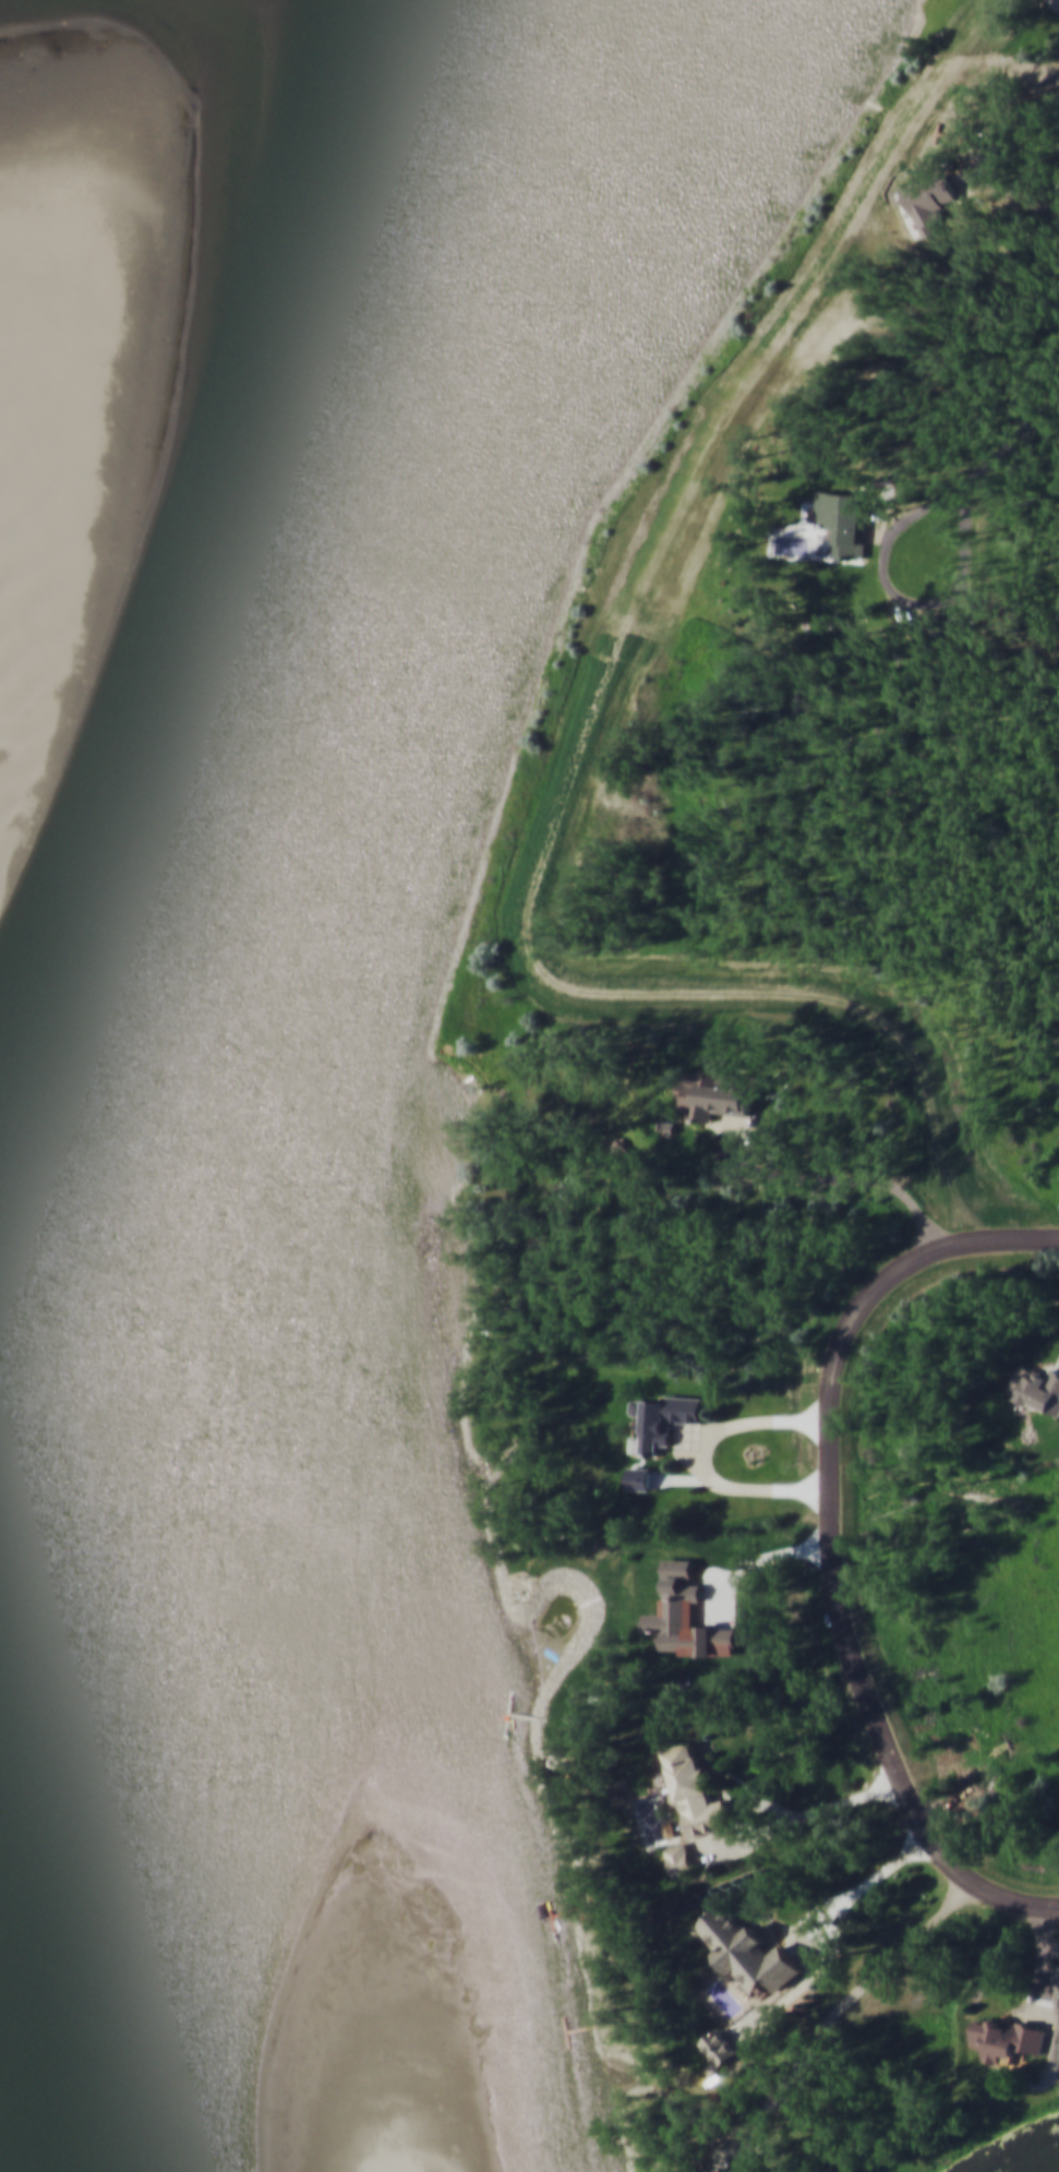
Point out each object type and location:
building: (1057, 1)
road: (1006, 192)
building: (925, 200)
road: (1002, 428)
building: (846, 519)
road: (882, 521)
road: (961, 599)
road: (910, 603)
building: (985, 612)
river: (240, 795)
building: (713, 1092)
building: (625, 1154)
road: (828, 1179)
building: (1037, 1388)
building: (665, 1418)
road: (689, 1436)
road: (697, 1459)
road: (831, 1550)
building: (693, 1789)
road: (757, 1805)
road: (795, 1819)
road: (703, 1853)
building: (681, 1859)
road: (821, 1937)
road: (805, 1939)
building: (749, 1954)
road: (1043, 1969)
road: (832, 2019)
building: (1010, 2040)
building: (720, 2048)
building: (723, 2171)

